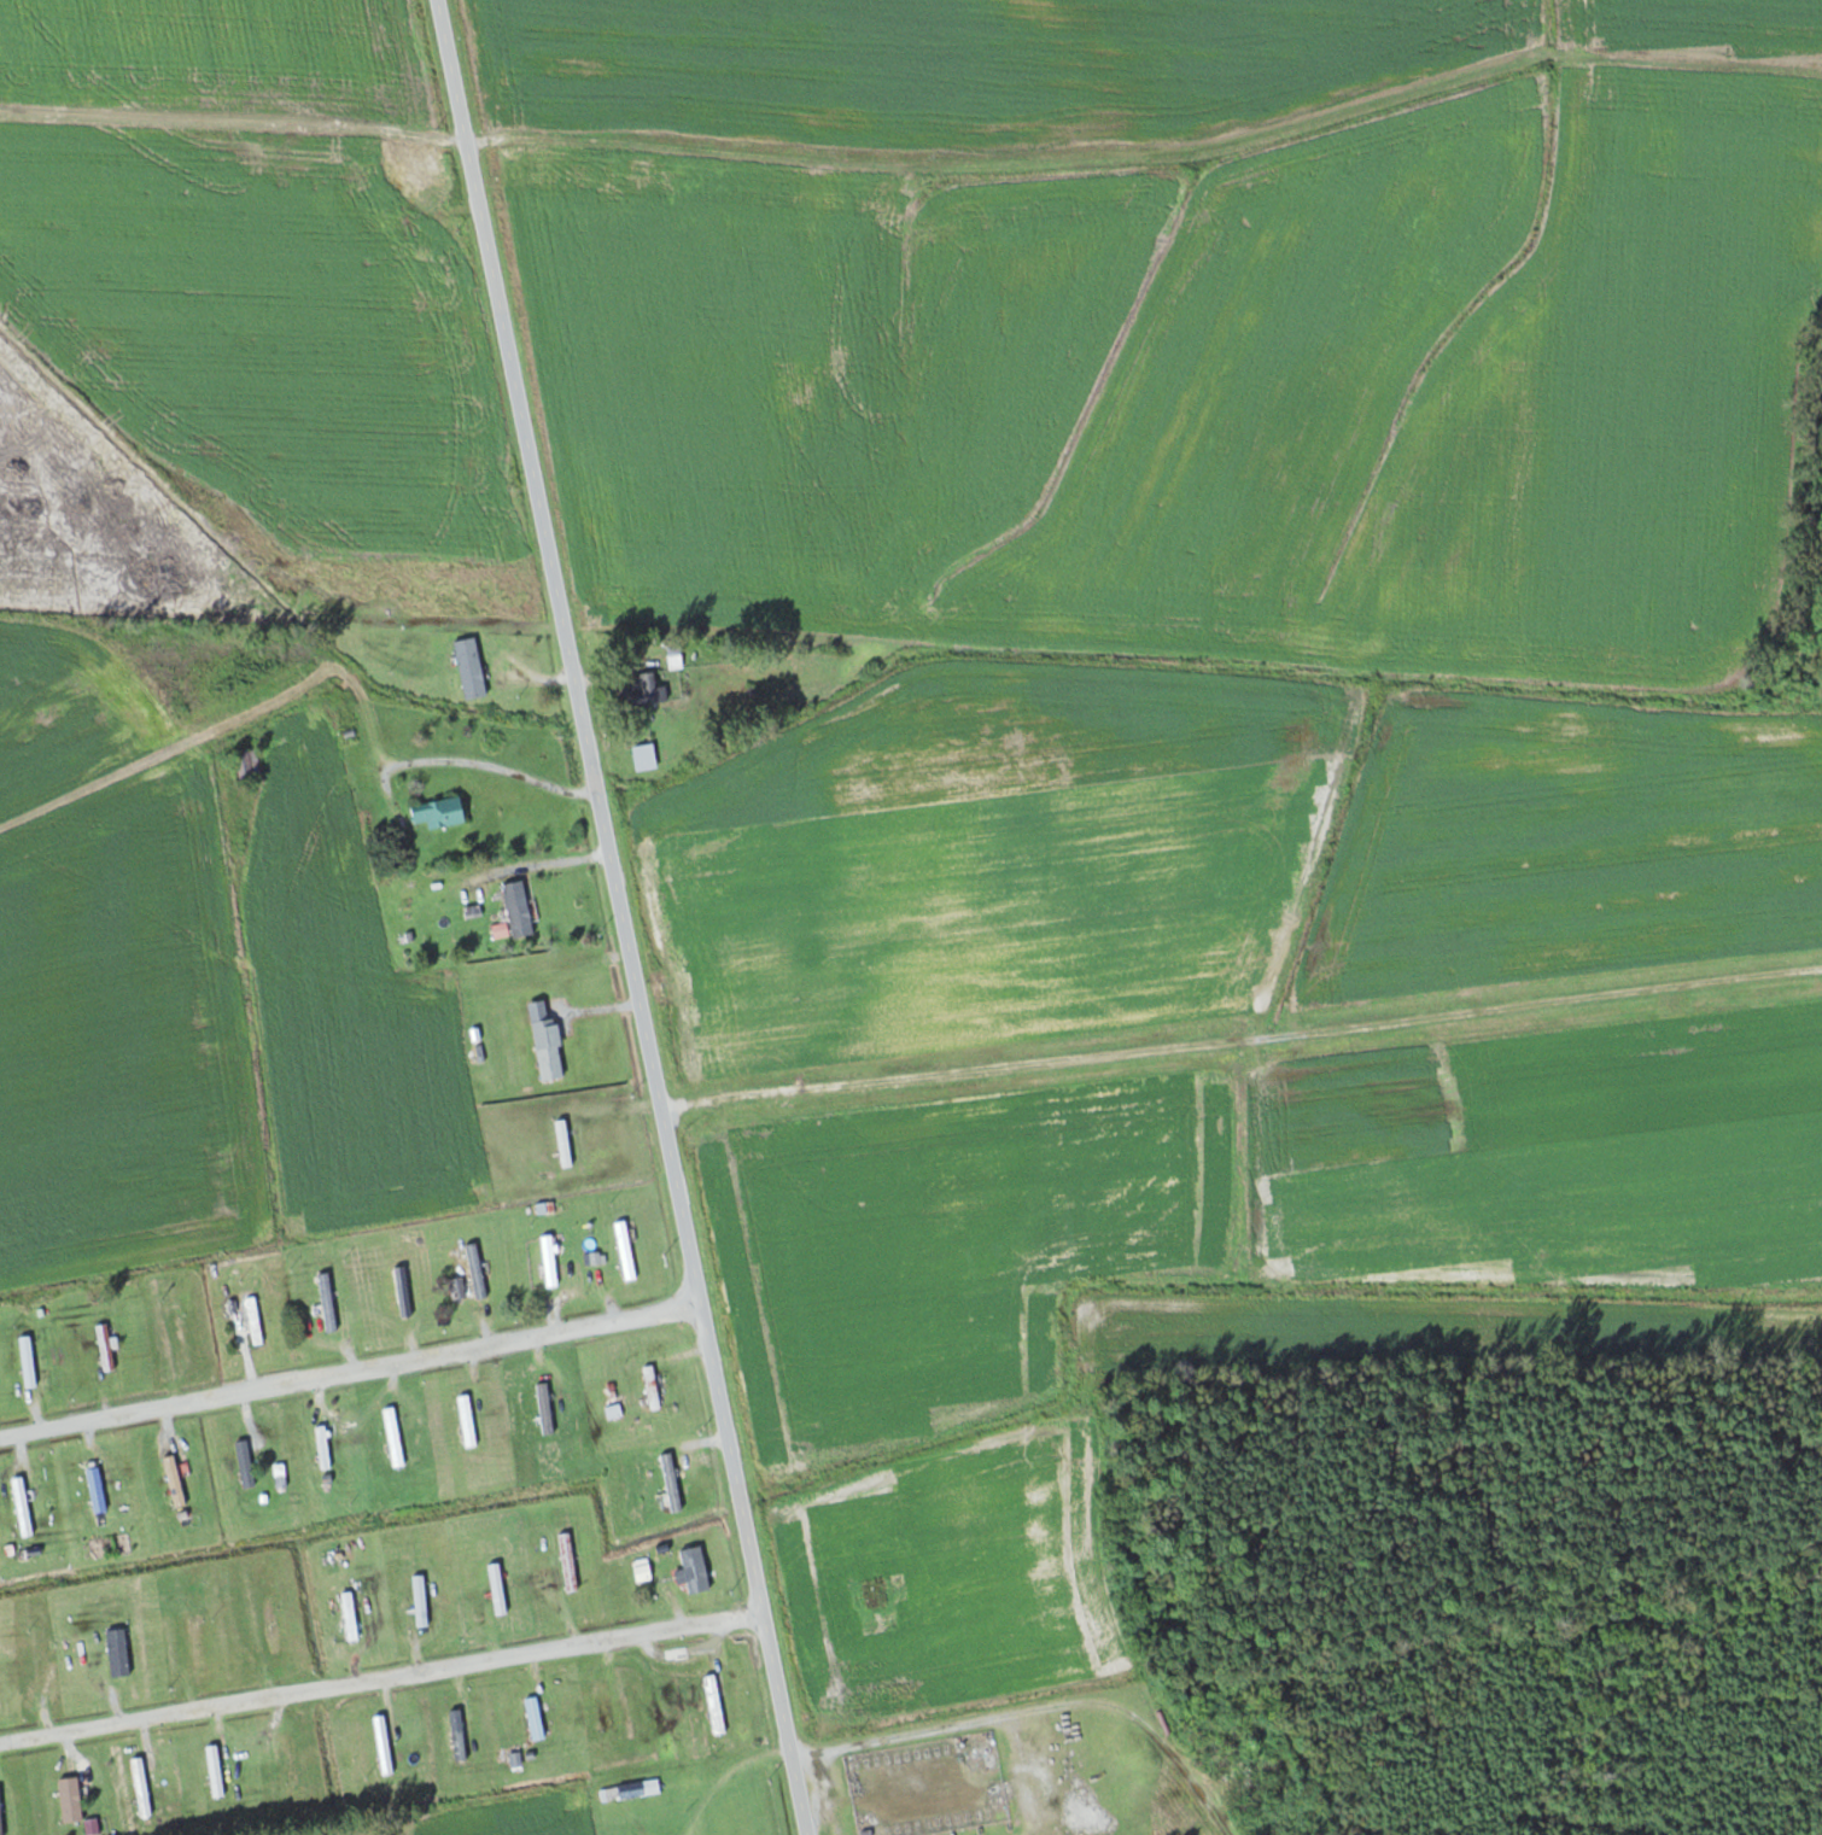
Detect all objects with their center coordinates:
building: (292, 140)
building: (420, 171)
building: (648, 175)
building: (397, 224)
building: (426, 251)
building: (676, 653)
building: (473, 667)
building: (650, 690)
building: (647, 756)
road: (496, 766)
building: (442, 812)
road: (548, 861)
building: (520, 908)
road: (621, 917)
building: (550, 1050)
building: (626, 1251)
building: (550, 1261)
building: (478, 1270)
building: (399, 1290)
building: (327, 1302)
building: (252, 1321)
building: (106, 1346)
building: (29, 1361)
road: (350, 1369)
building: (653, 1386)
building: (468, 1421)
building: (395, 1437)
building: (245, 1463)
building: (171, 1479)
building: (672, 1482)
building: (97, 1494)
building: (23, 1507)
building: (570, 1561)
building: (424, 1600)
building: (351, 1617)
building: (198, 1642)
building: (119, 1652)
road: (381, 1676)
building: (716, 1705)
building: (607, 1707)
road: (1040, 1711)
building: (459, 1736)
building: (385, 1745)
building: (291, 1760)
building: (215, 1769)
building: (141, 1783)

